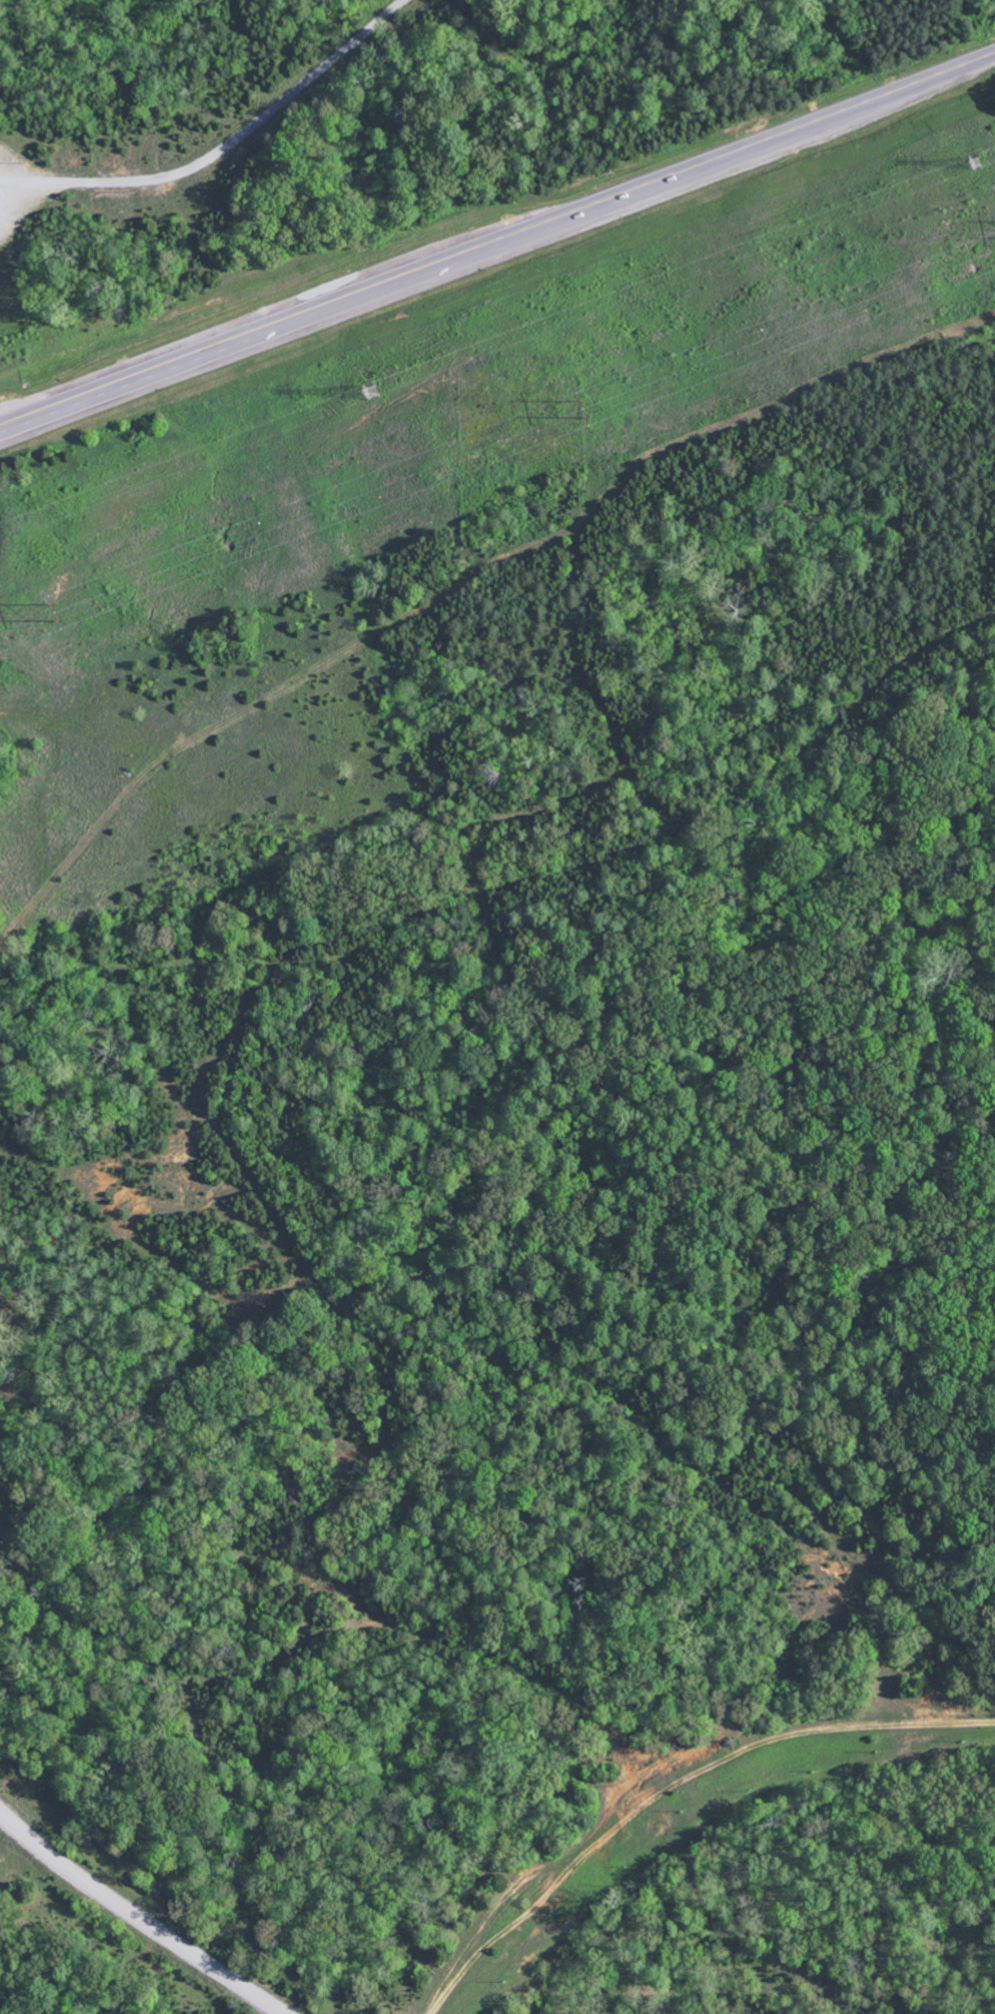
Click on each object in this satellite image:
power tower: (976, 160)
road: (497, 239)
power tower: (371, 388)
power tower: (588, 414)
power tower: (62, 617)
road: (139, 1918)

